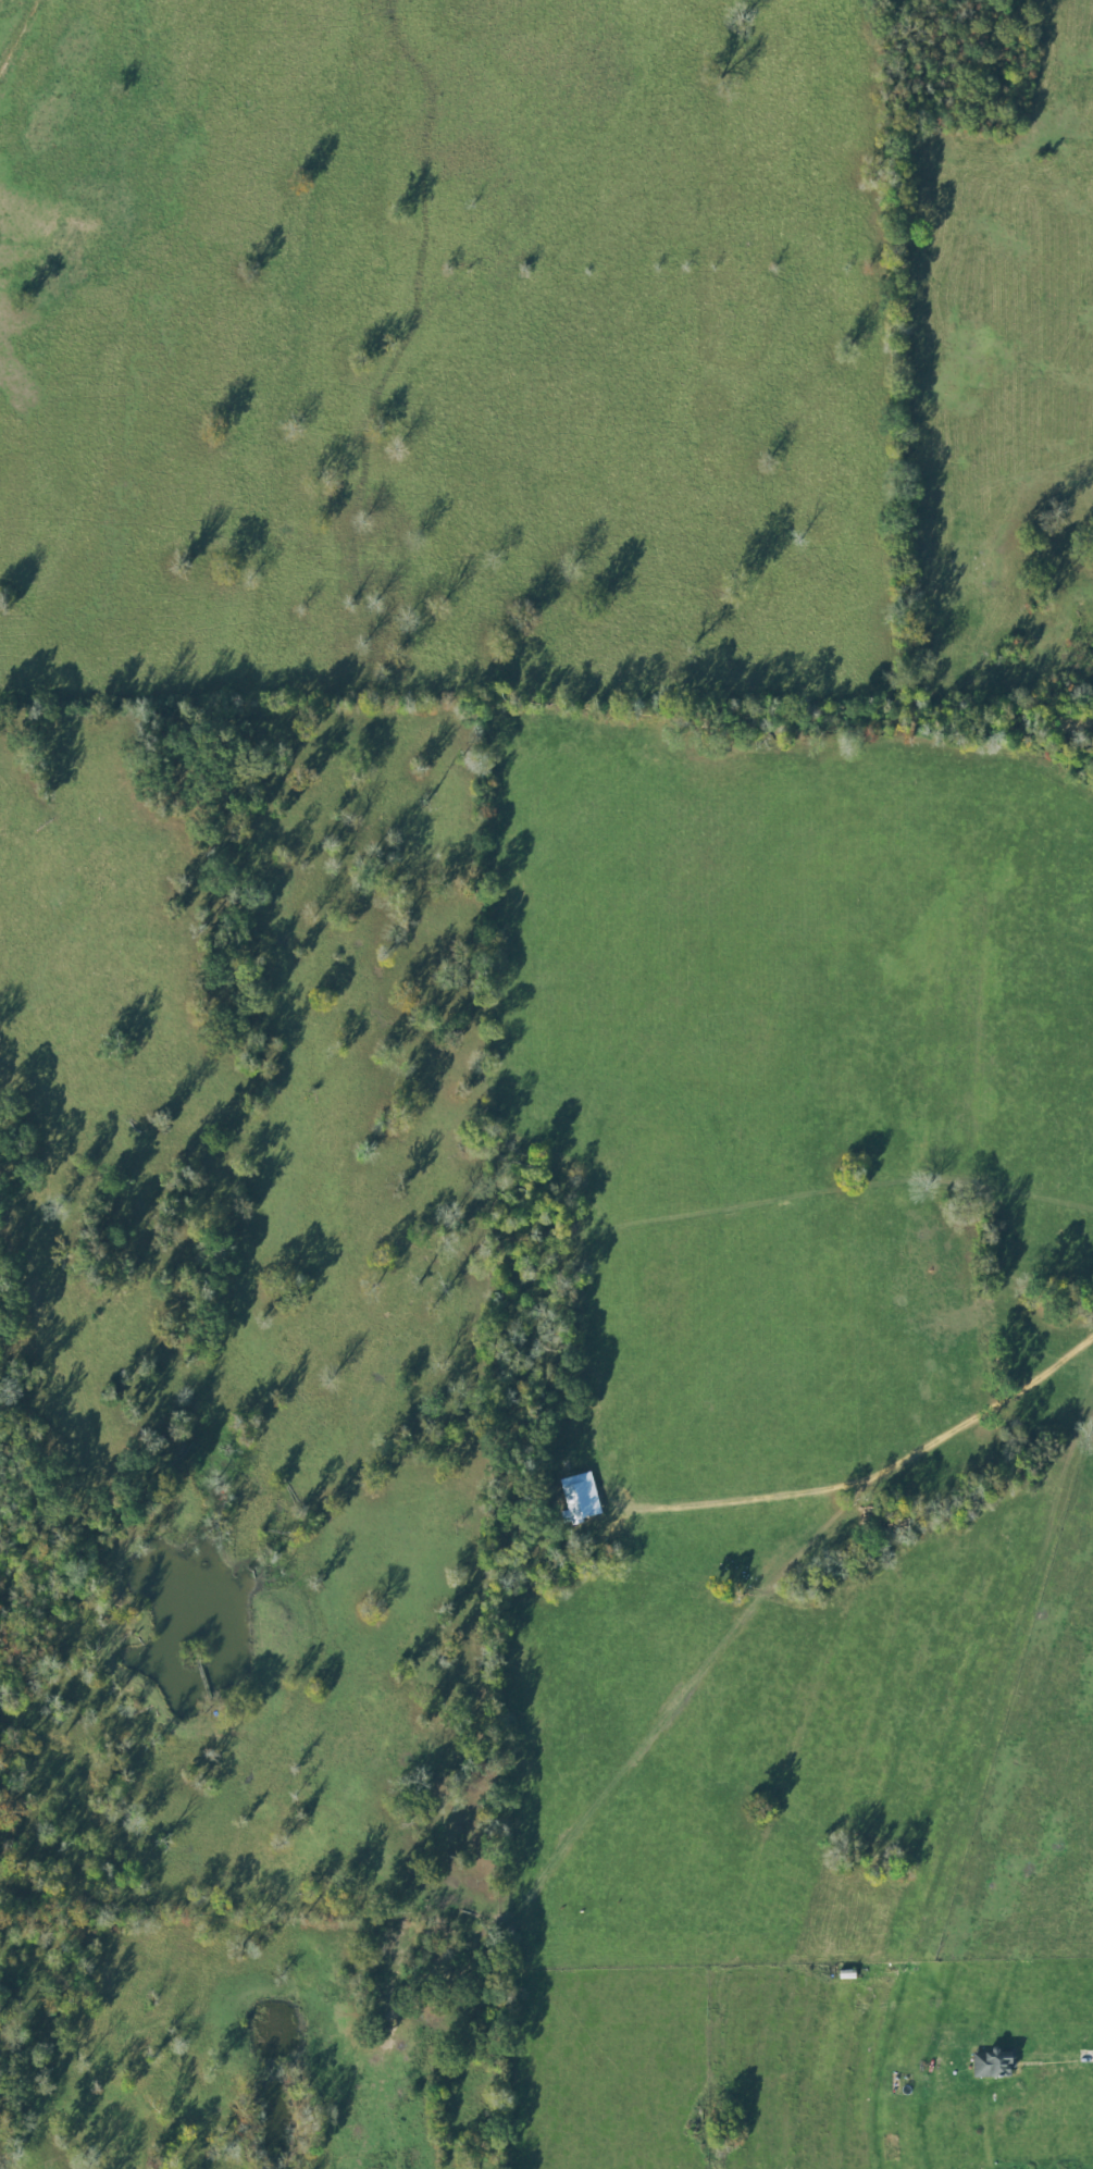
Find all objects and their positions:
road: (1091, 2057)

